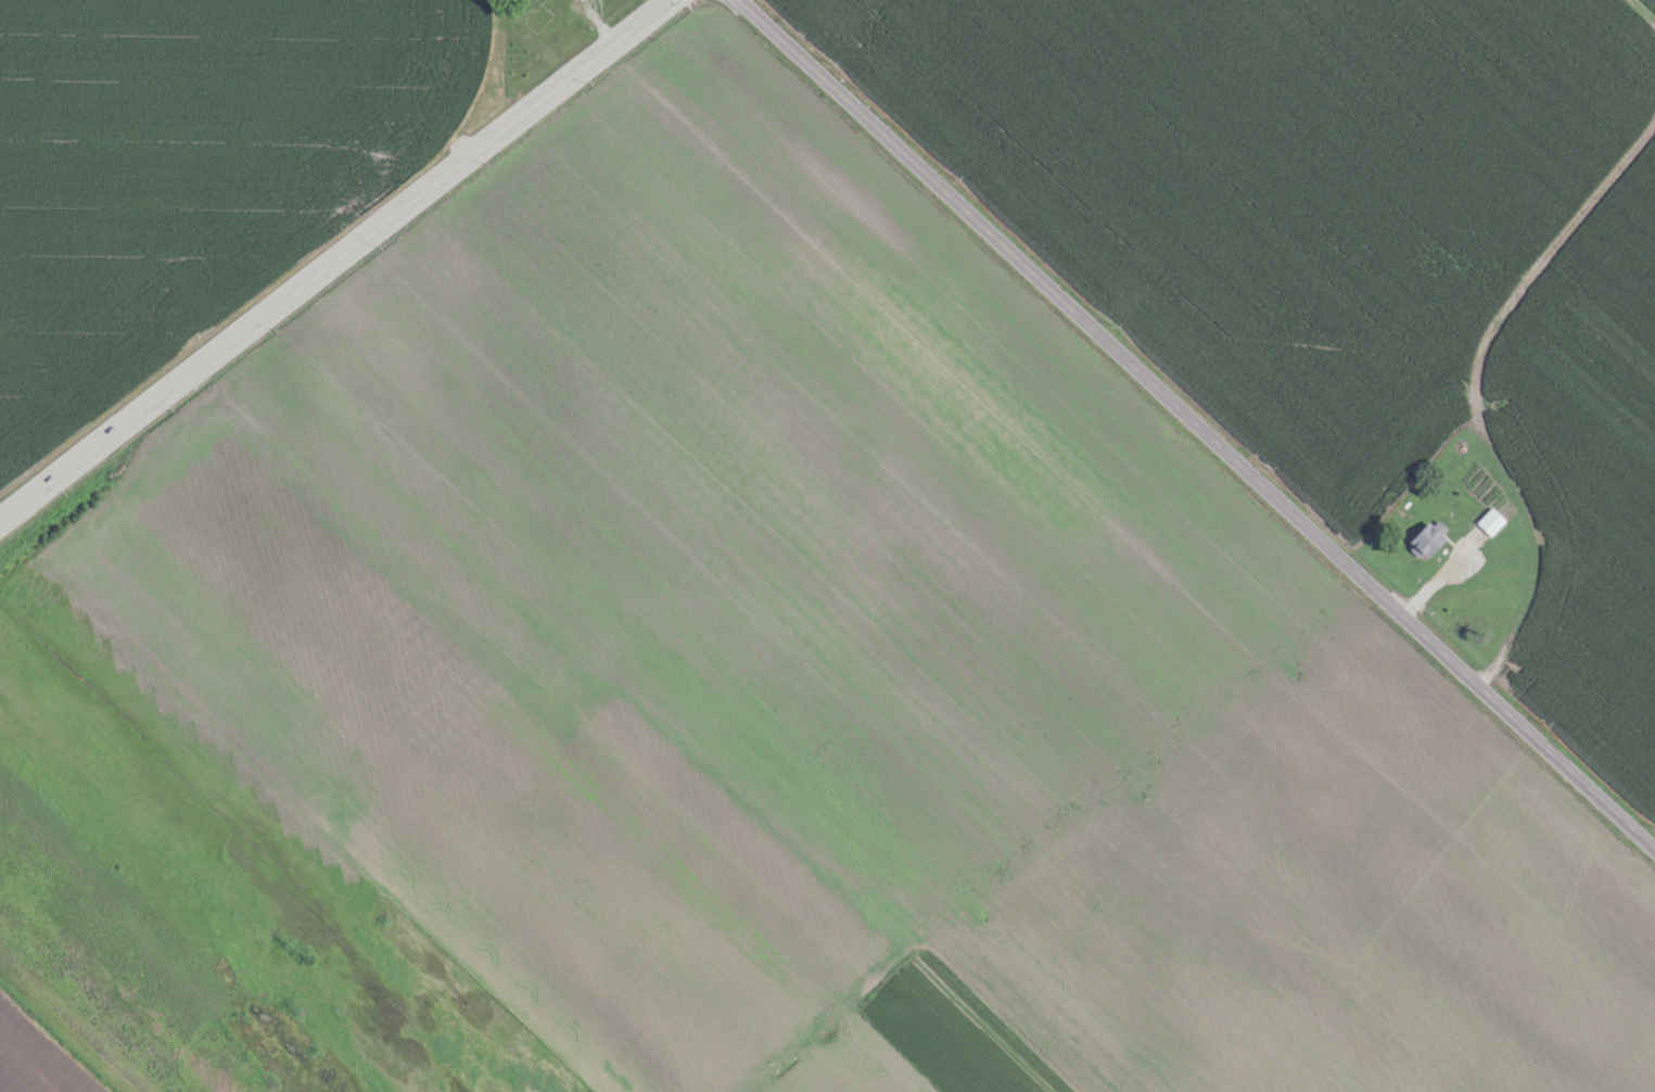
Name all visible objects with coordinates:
road: (332, 258)
road: (1194, 424)
building: (1488, 521)
building: (1426, 537)

